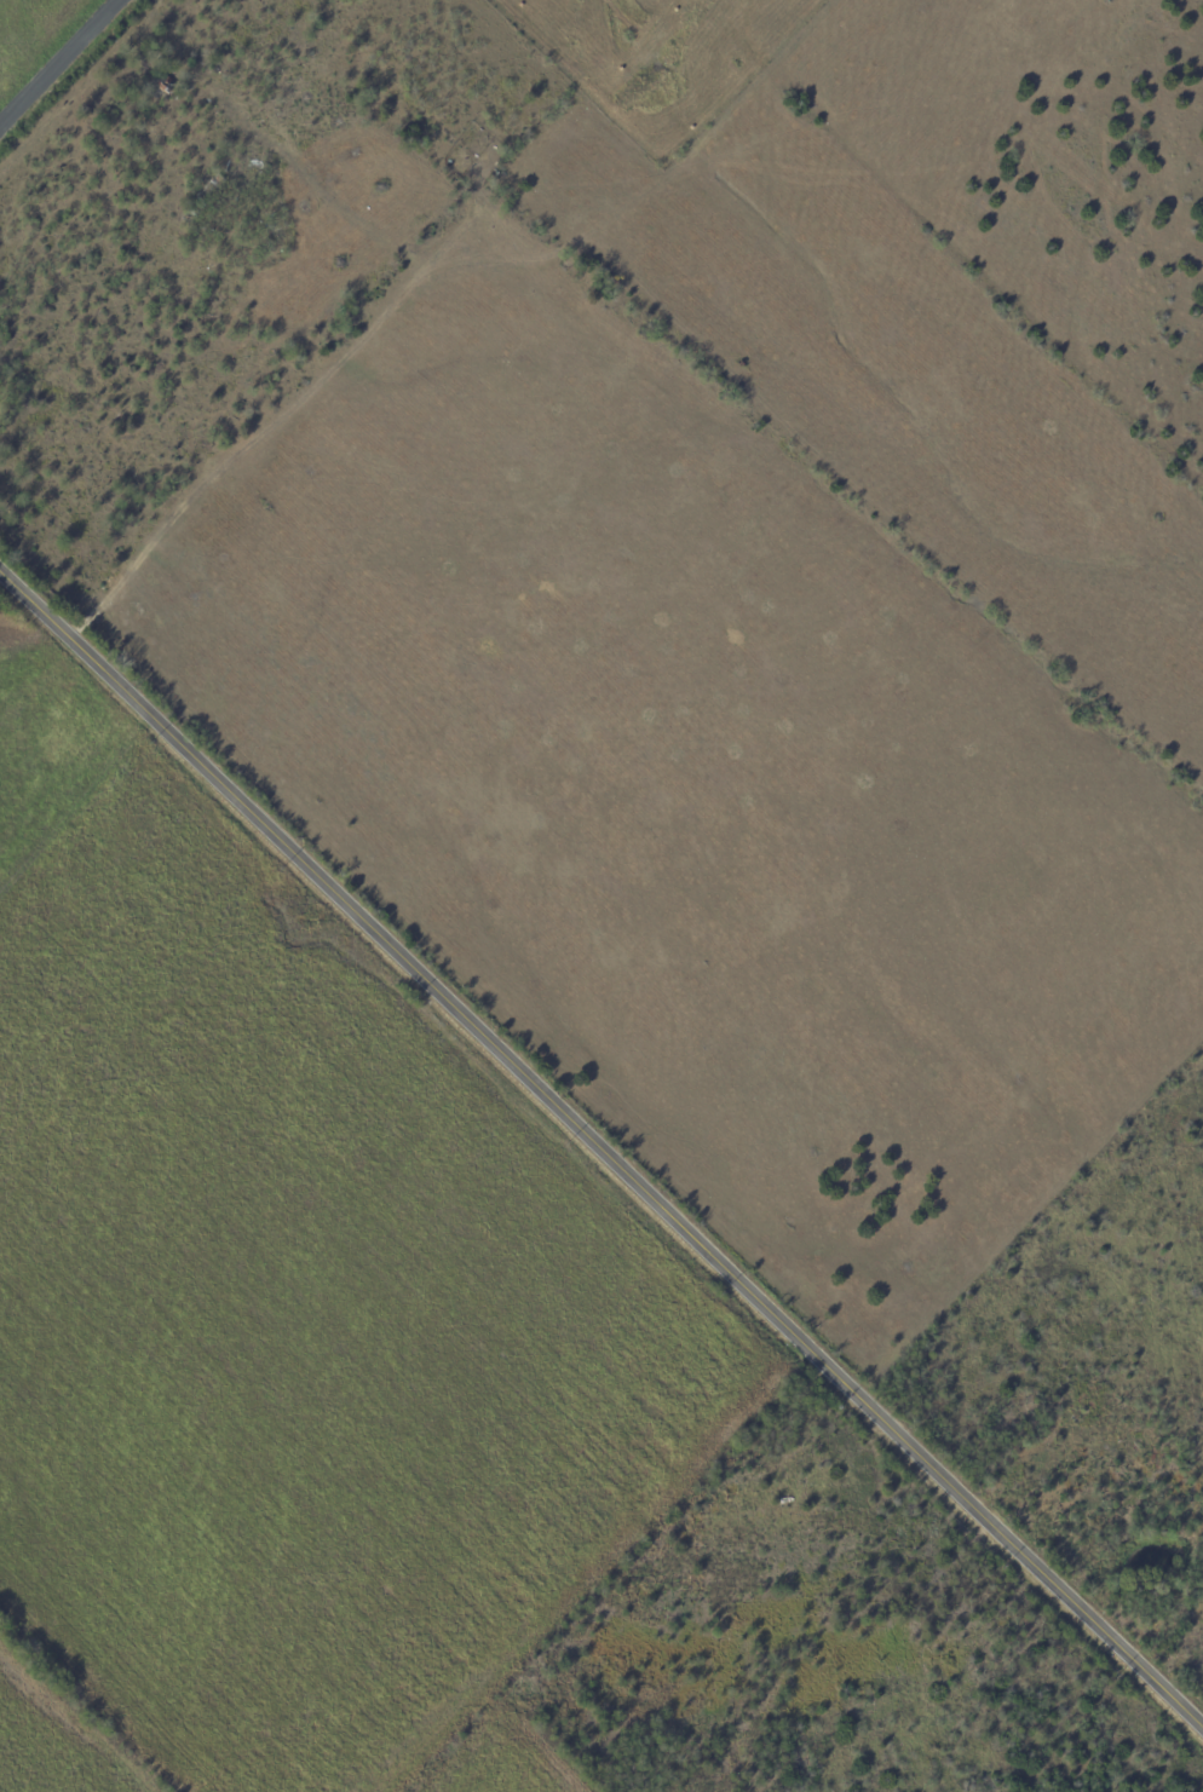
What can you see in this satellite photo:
road: (59, 62)
building: (161, 86)
building: (257, 165)
building: (202, 198)
road: (603, 1146)
building: (1081, 1408)
building: (1156, 1460)

